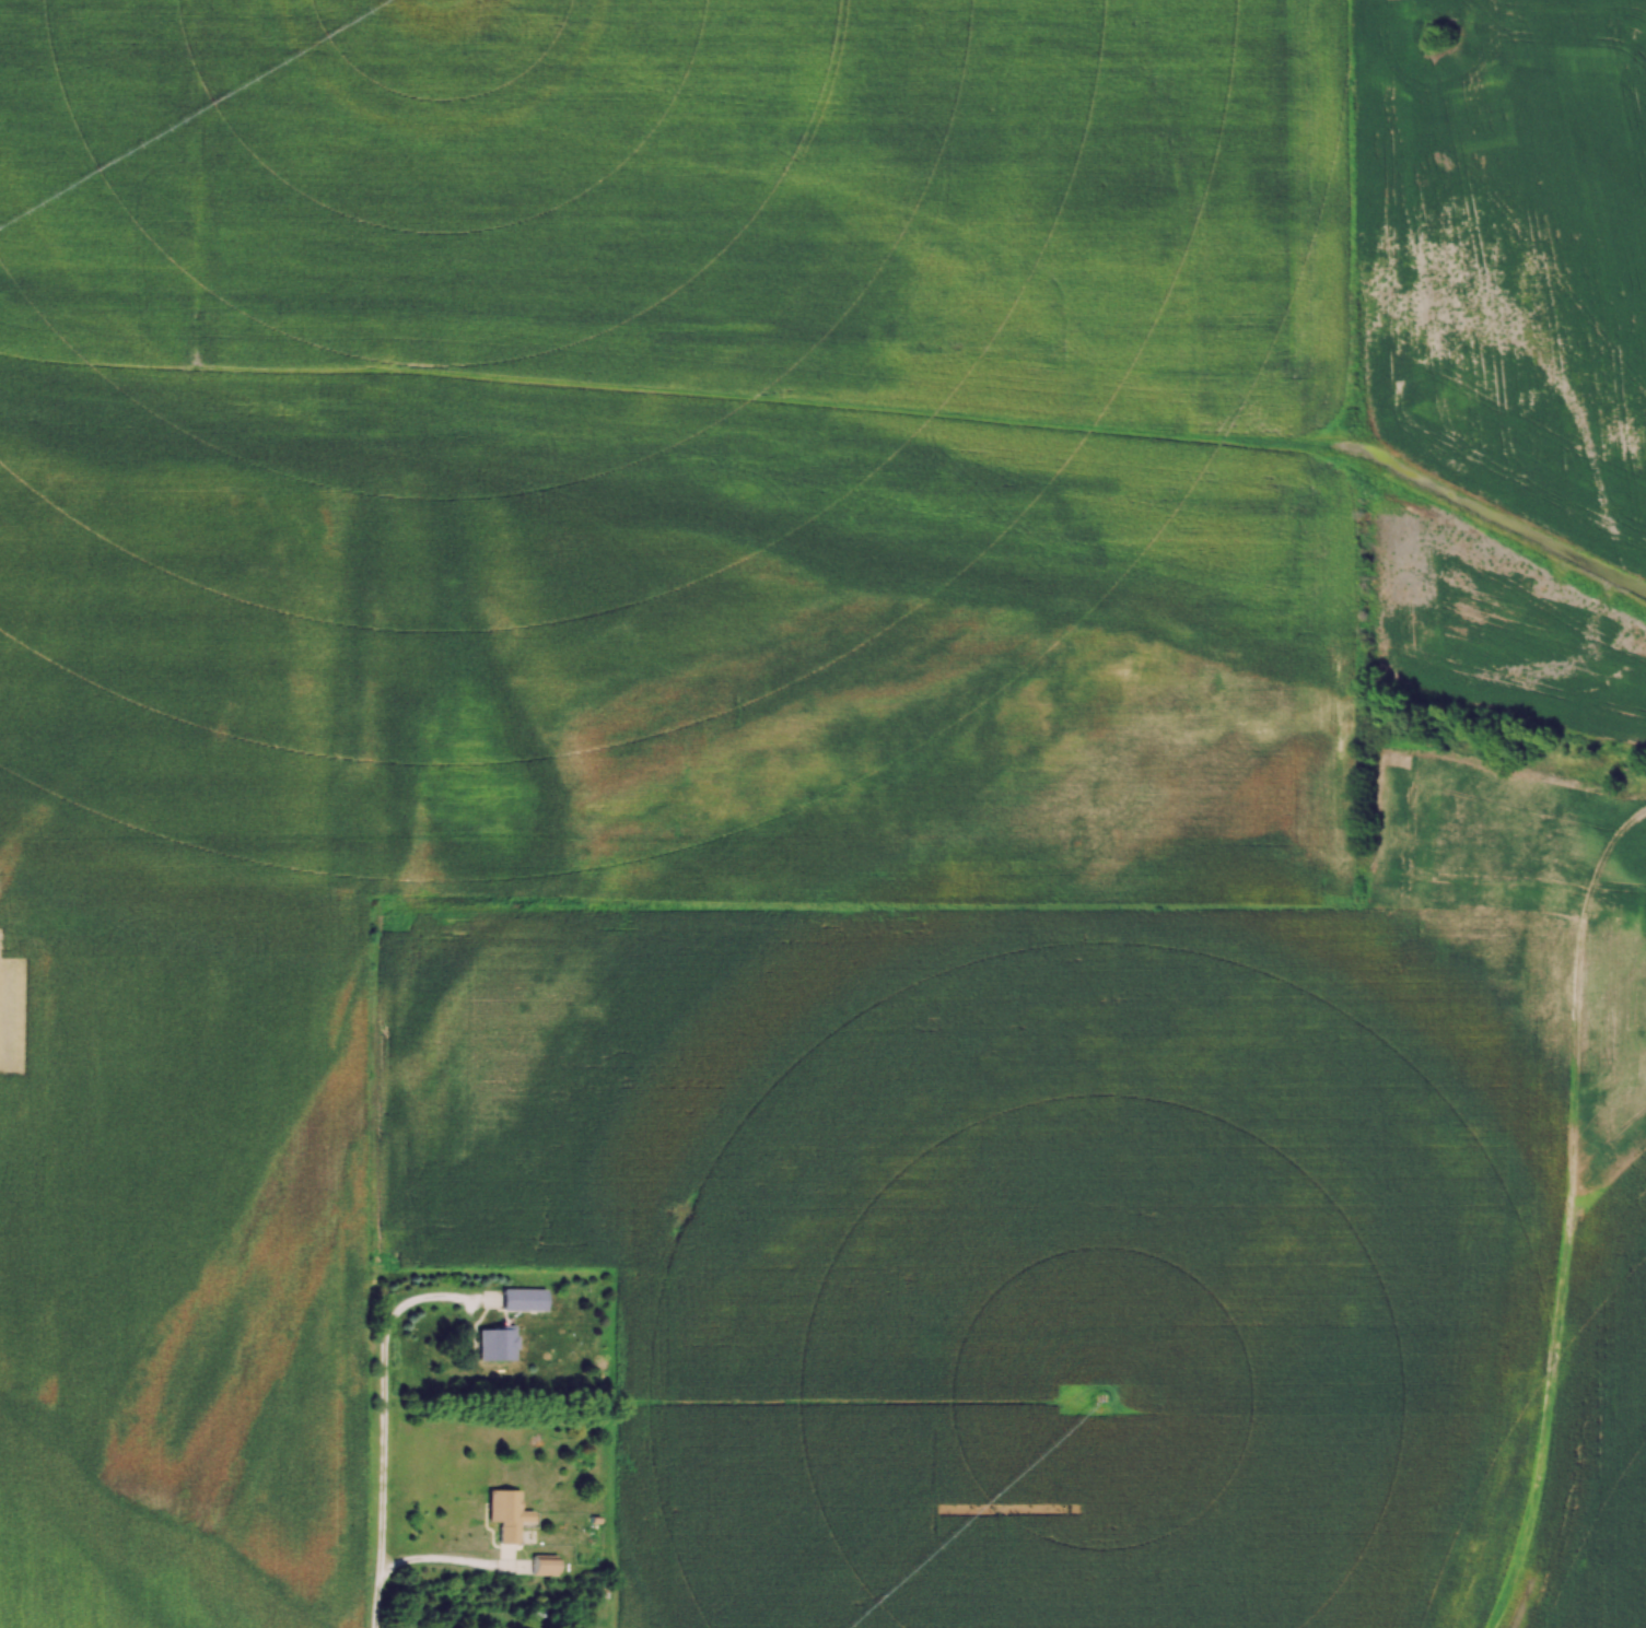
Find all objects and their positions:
road: (384, 1436)

